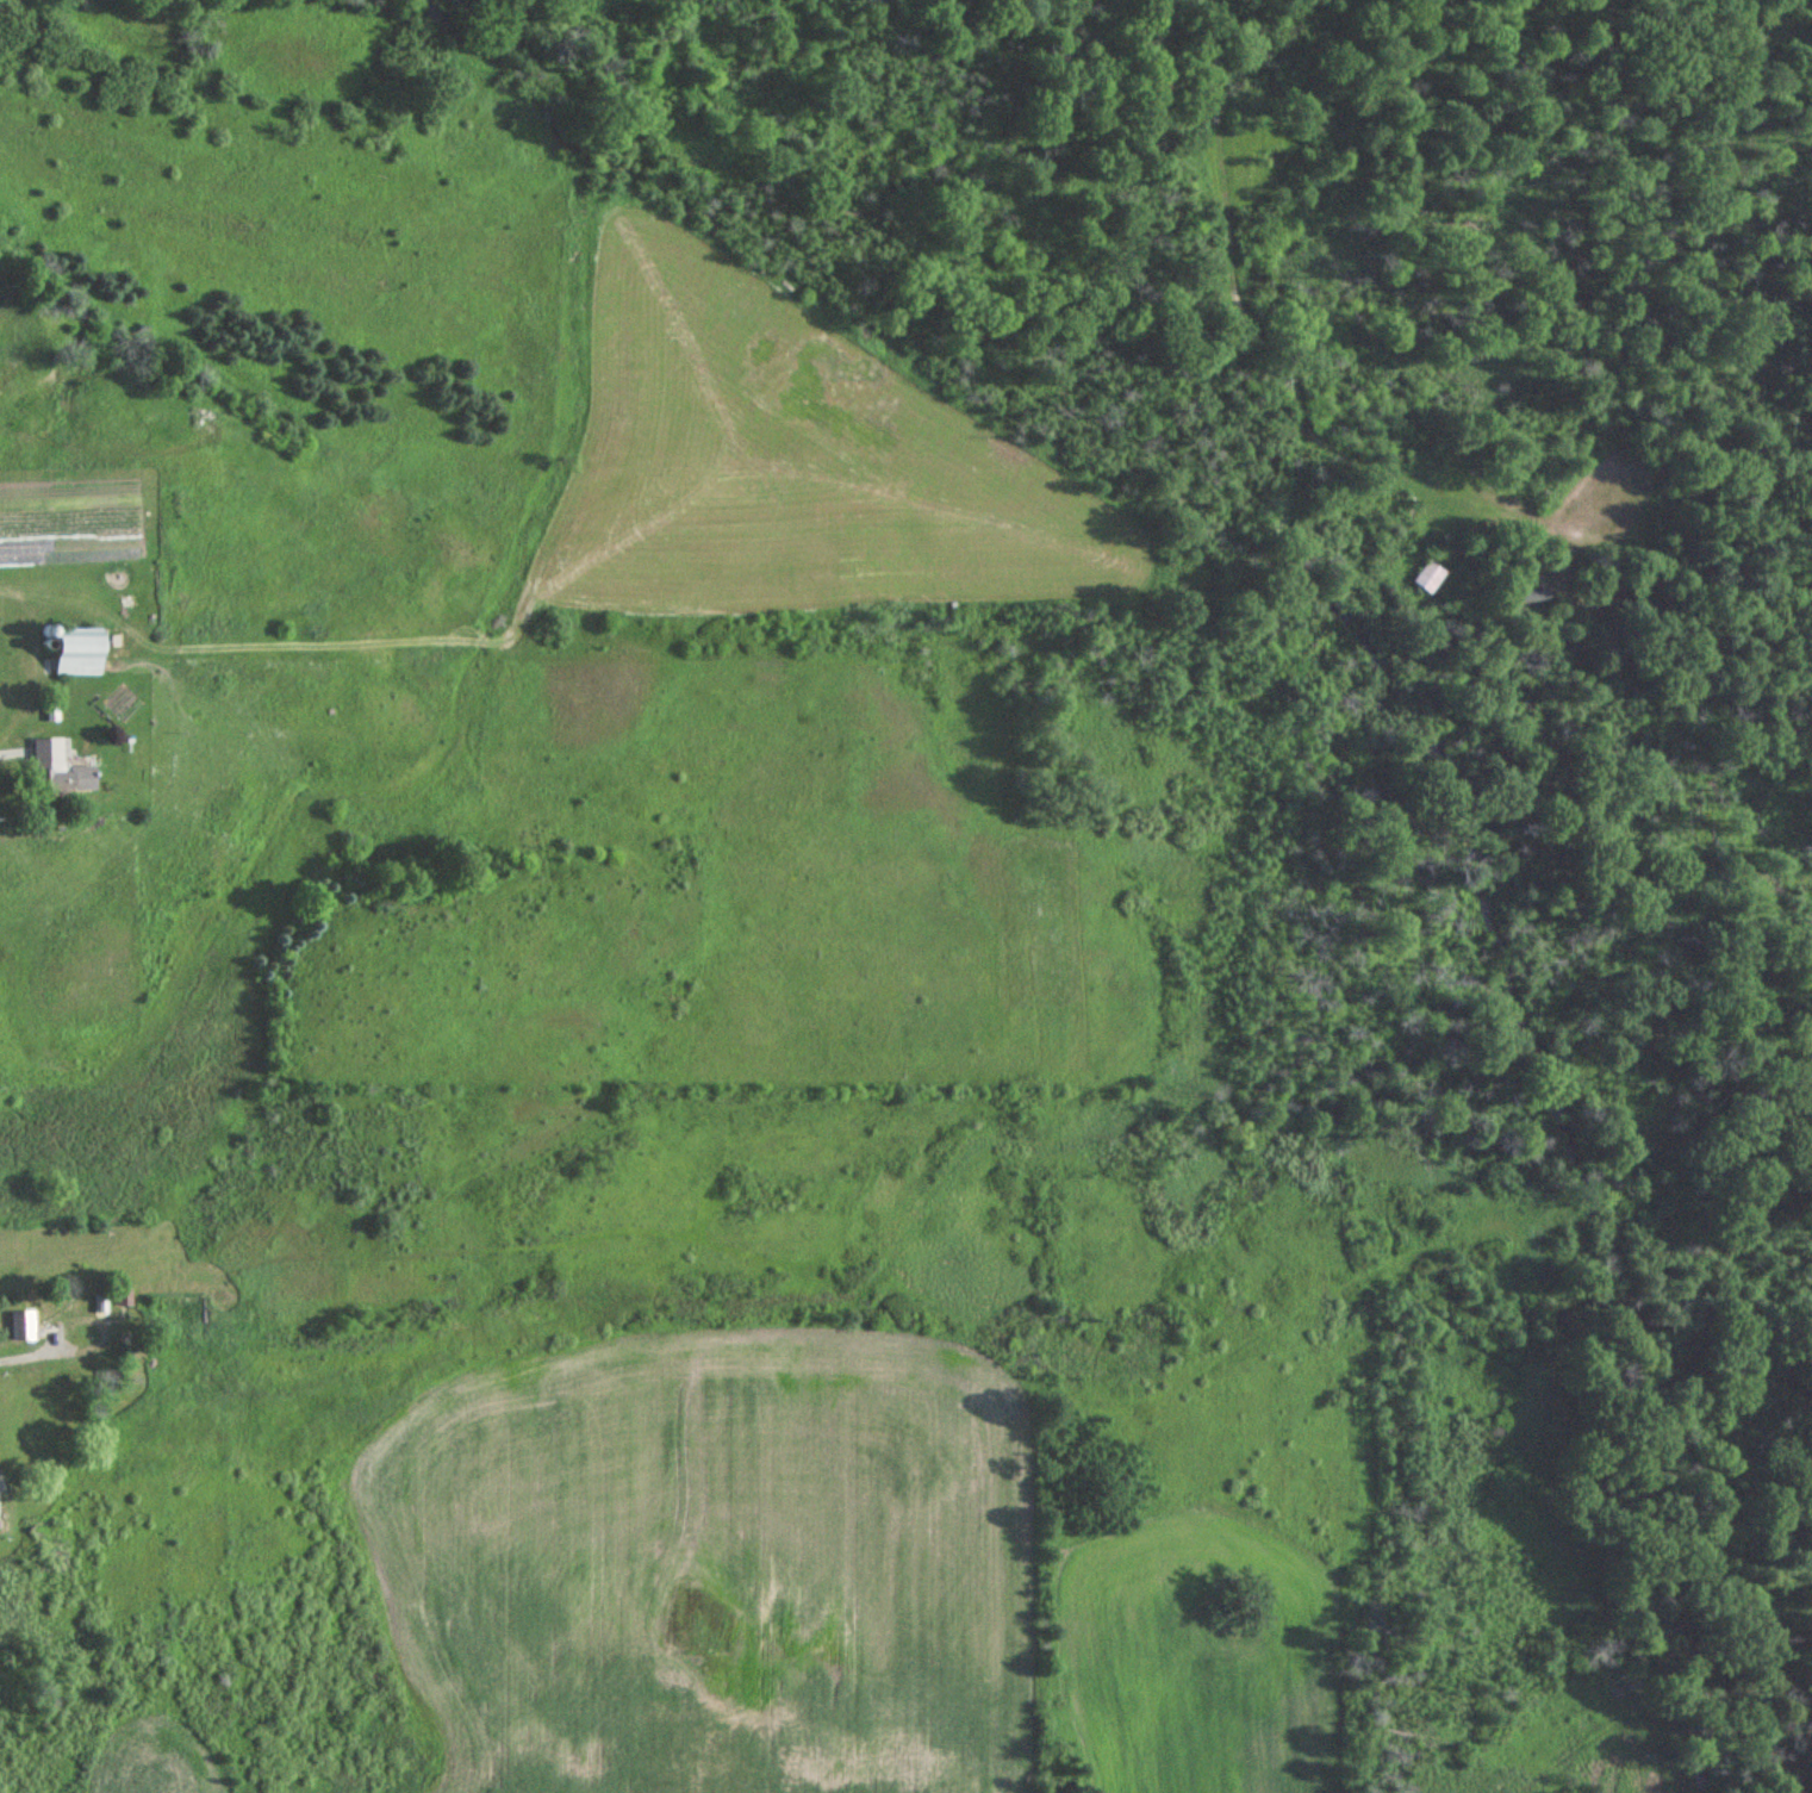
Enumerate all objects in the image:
building: (1430, 578)
building: (76, 649)
building: (50, 710)
road: (10, 752)
building: (56, 766)
building: (122, 1295)
building: (20, 1324)
road: (33, 1355)

